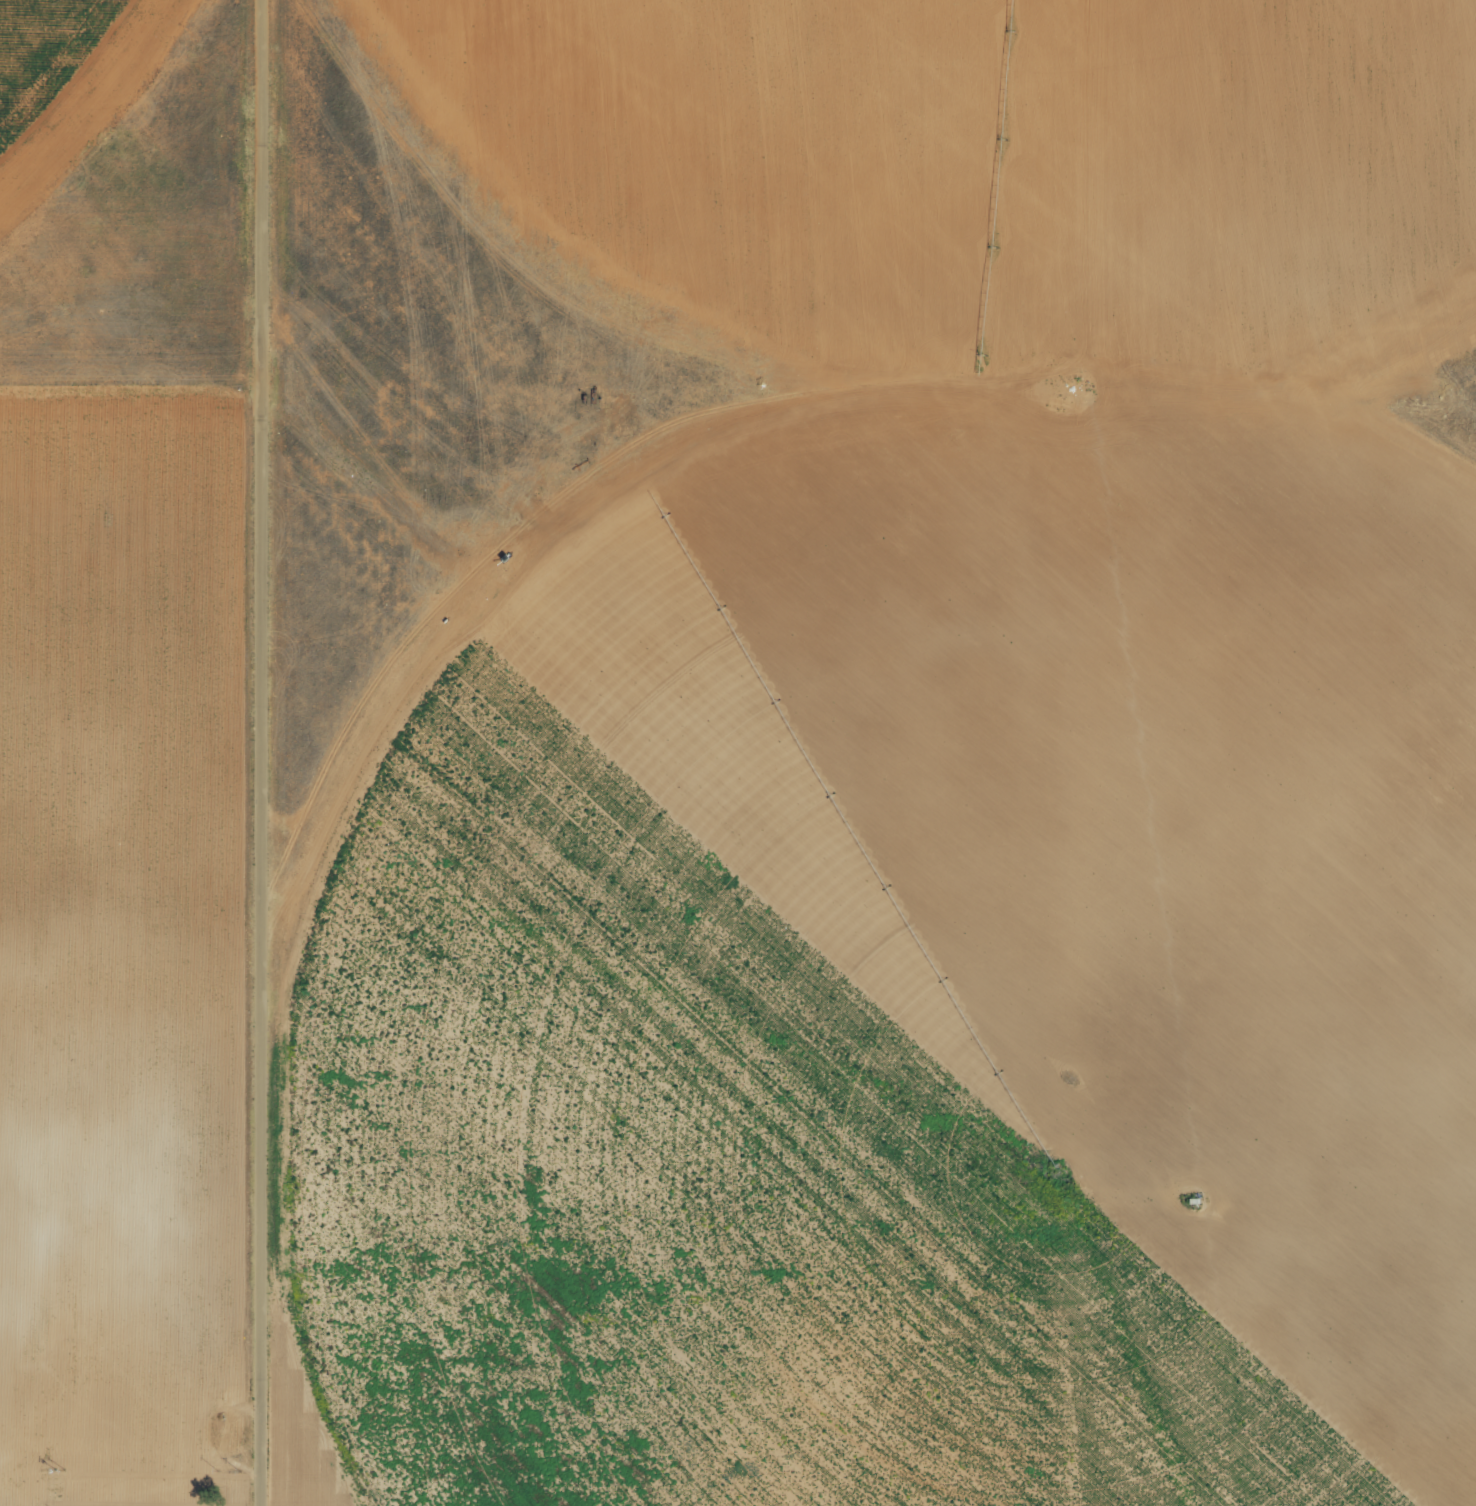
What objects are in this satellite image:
road: (679, 431)
road: (285, 752)
road: (142, 982)

